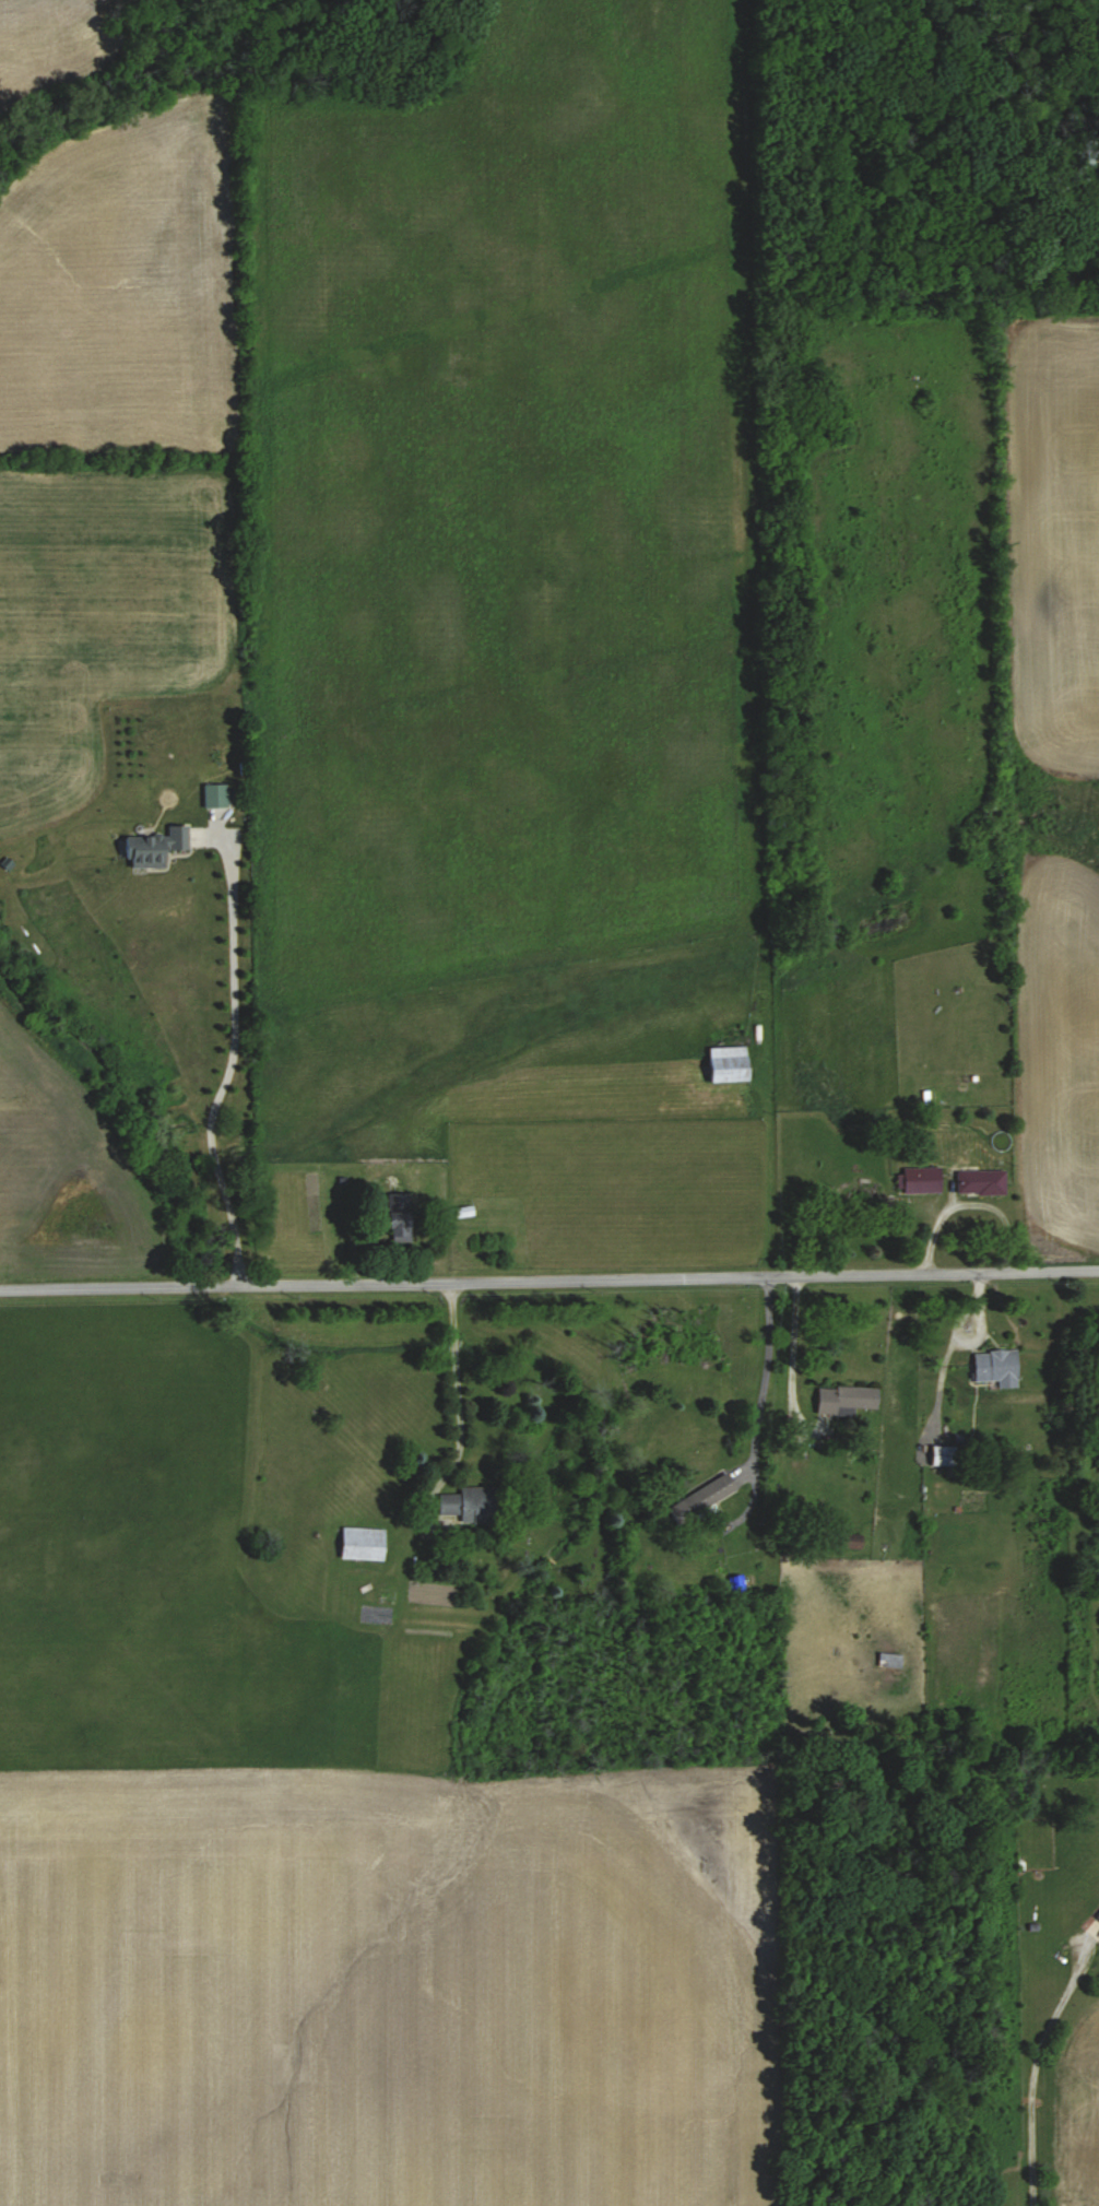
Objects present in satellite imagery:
building: (215, 794)
building: (157, 847)
road: (229, 1062)
building: (729, 1063)
building: (922, 1180)
building: (982, 1182)
building: (465, 1212)
building: (400, 1218)
road: (549, 1277)
road: (792, 1364)
building: (997, 1367)
road: (458, 1395)
building: (847, 1400)
road: (760, 1404)
building: (1097, 1420)
building: (944, 1455)
building: (702, 1497)
building: (471, 1505)
building: (364, 1544)
building: (890, 1661)
building: (1098, 1918)
road: (1032, 2075)

